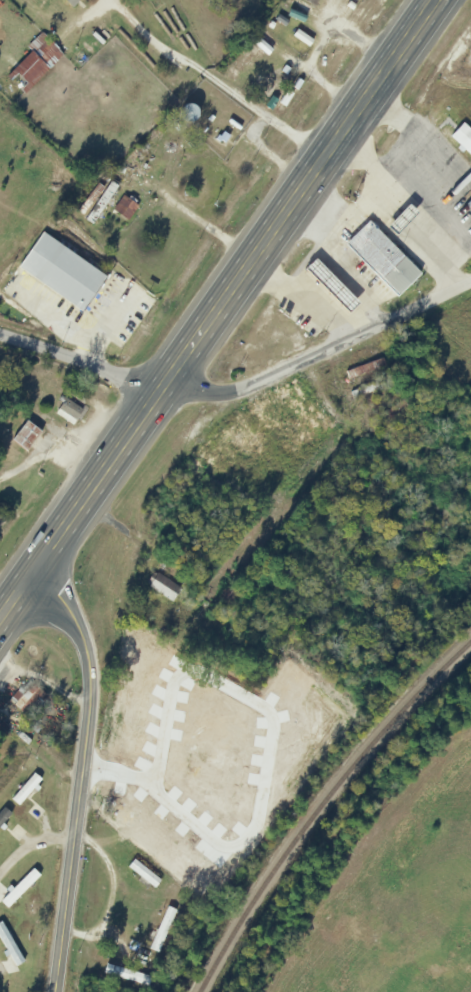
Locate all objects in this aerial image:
building: (70, 2)
building: (354, 2)
building: (27, 73)
building: (187, 114)
building: (100, 203)
building: (124, 209)
building: (381, 260)
road: (216, 306)
road: (319, 354)
road: (81, 360)
building: (364, 370)
building: (67, 413)
building: (24, 437)
building: (240, 440)
road: (360, 451)
building: (162, 588)
building: (28, 701)
building: (144, 741)
road: (85, 771)
building: (25, 790)
railway: (319, 804)
building: (3, 816)
building: (127, 819)
road: (34, 844)
building: (146, 878)
building: (161, 931)
building: (125, 976)

